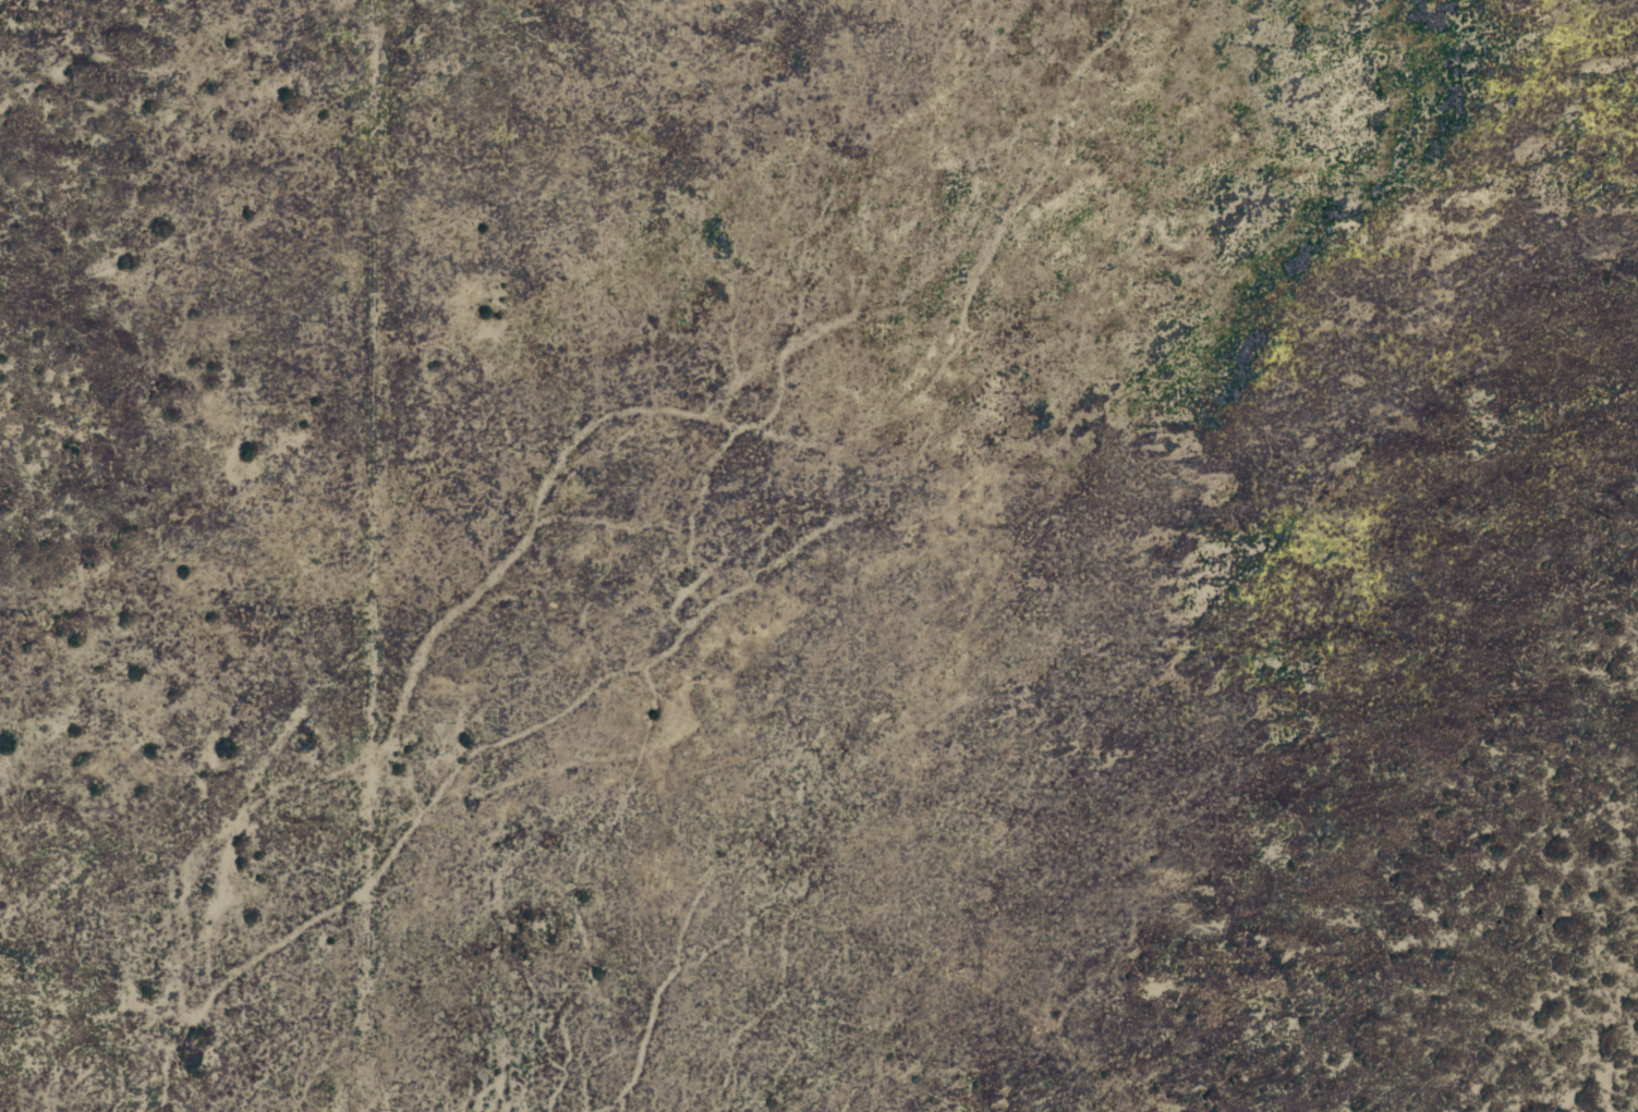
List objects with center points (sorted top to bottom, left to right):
road: (4, 7)

